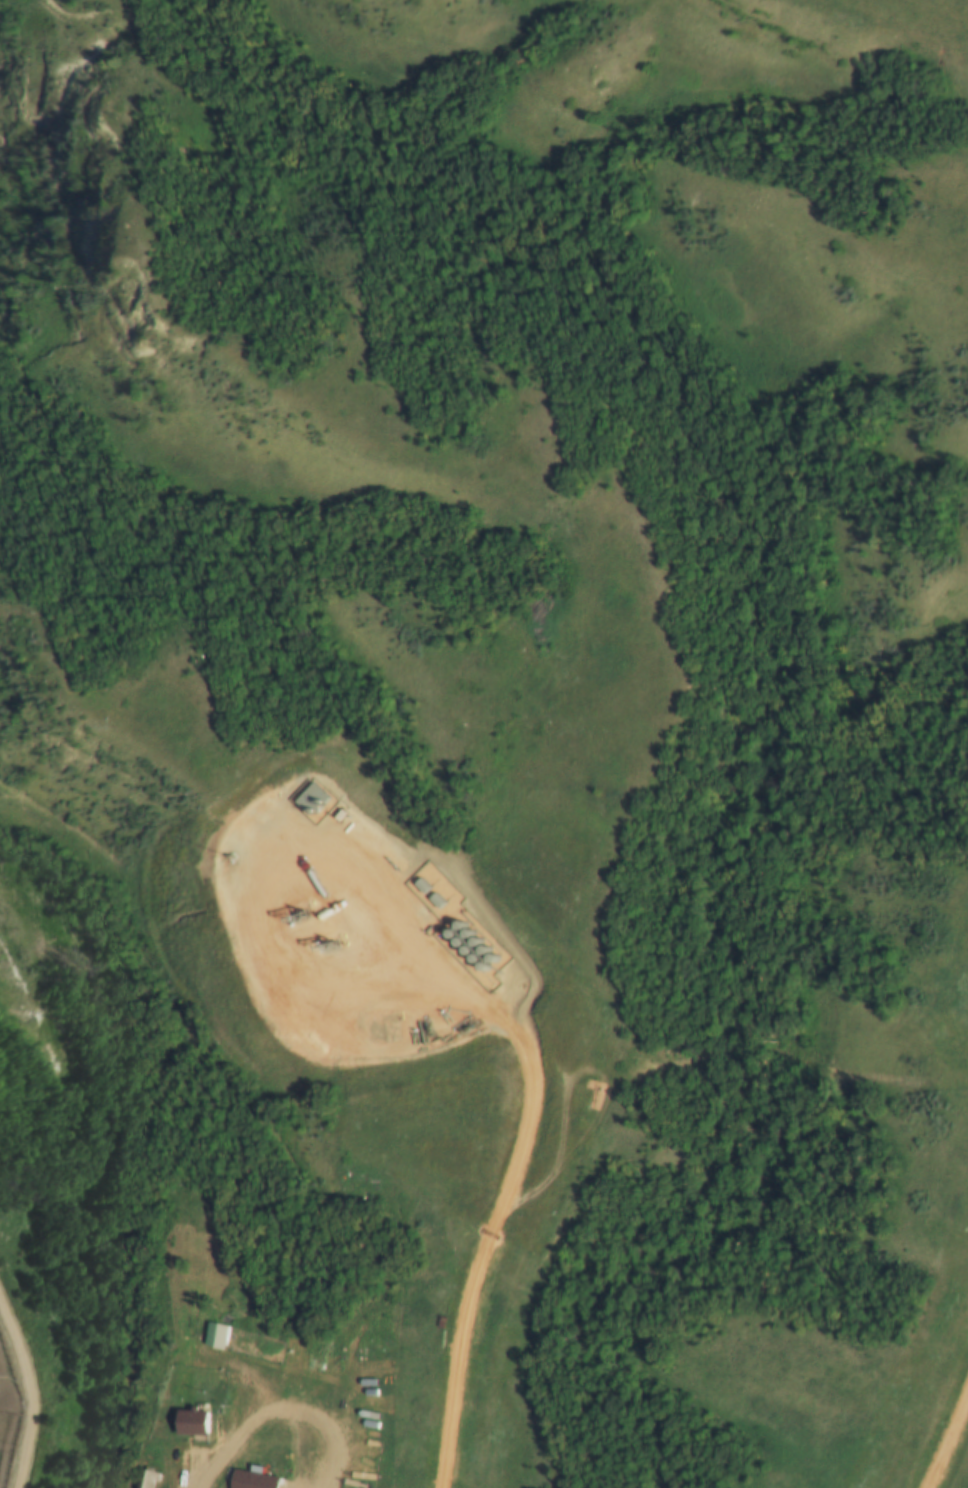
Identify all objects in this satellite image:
building: (311, 798)
building: (419, 881)
road: (258, 884)
building: (434, 896)
petroleum well: (293, 914)
building: (457, 926)
storage tank: (457, 926)
building: (450, 933)
storage tank: (450, 933)
building: (466, 936)
storage tank: (466, 936)
petroleum well: (323, 941)
building: (457, 942)
storage tank: (457, 942)
building: (474, 944)
storage tank: (474, 944)
building: (464, 951)
storage tank: (464, 951)
building: (482, 953)
storage tank: (482, 953)
building: (472, 959)
storage tank: (472, 959)
building: (489, 961)
storage tank: (489, 961)
building: (480, 967)
storage tank: (480, 967)
road: (489, 1226)
building: (190, 1421)
road: (945, 1435)
road: (240, 1447)
building: (152, 1478)
building: (251, 1478)

